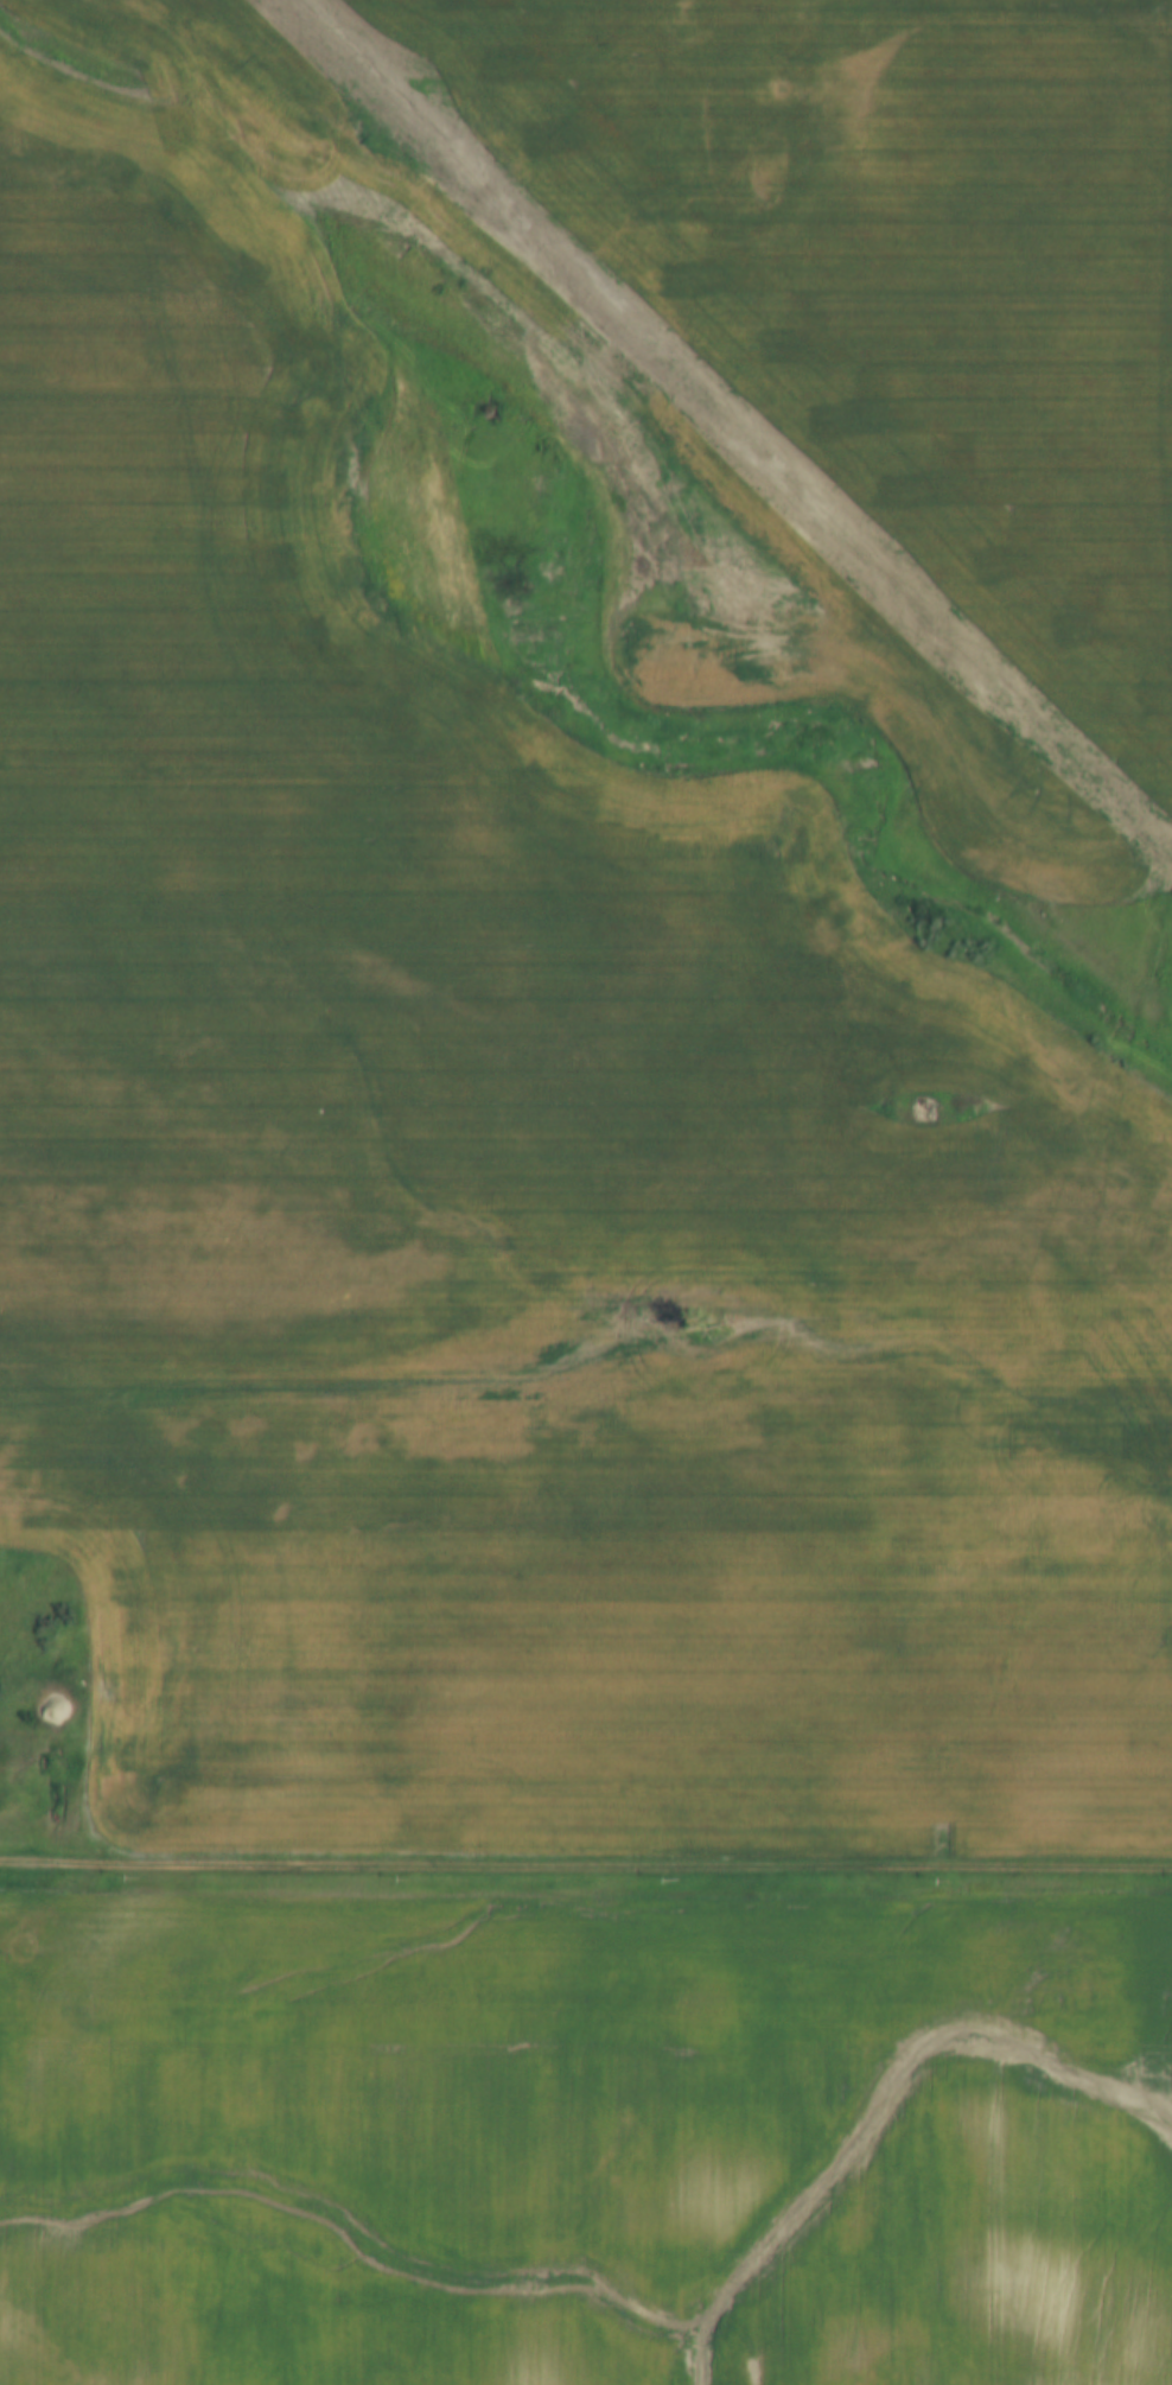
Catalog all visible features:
road: (585, 1868)

